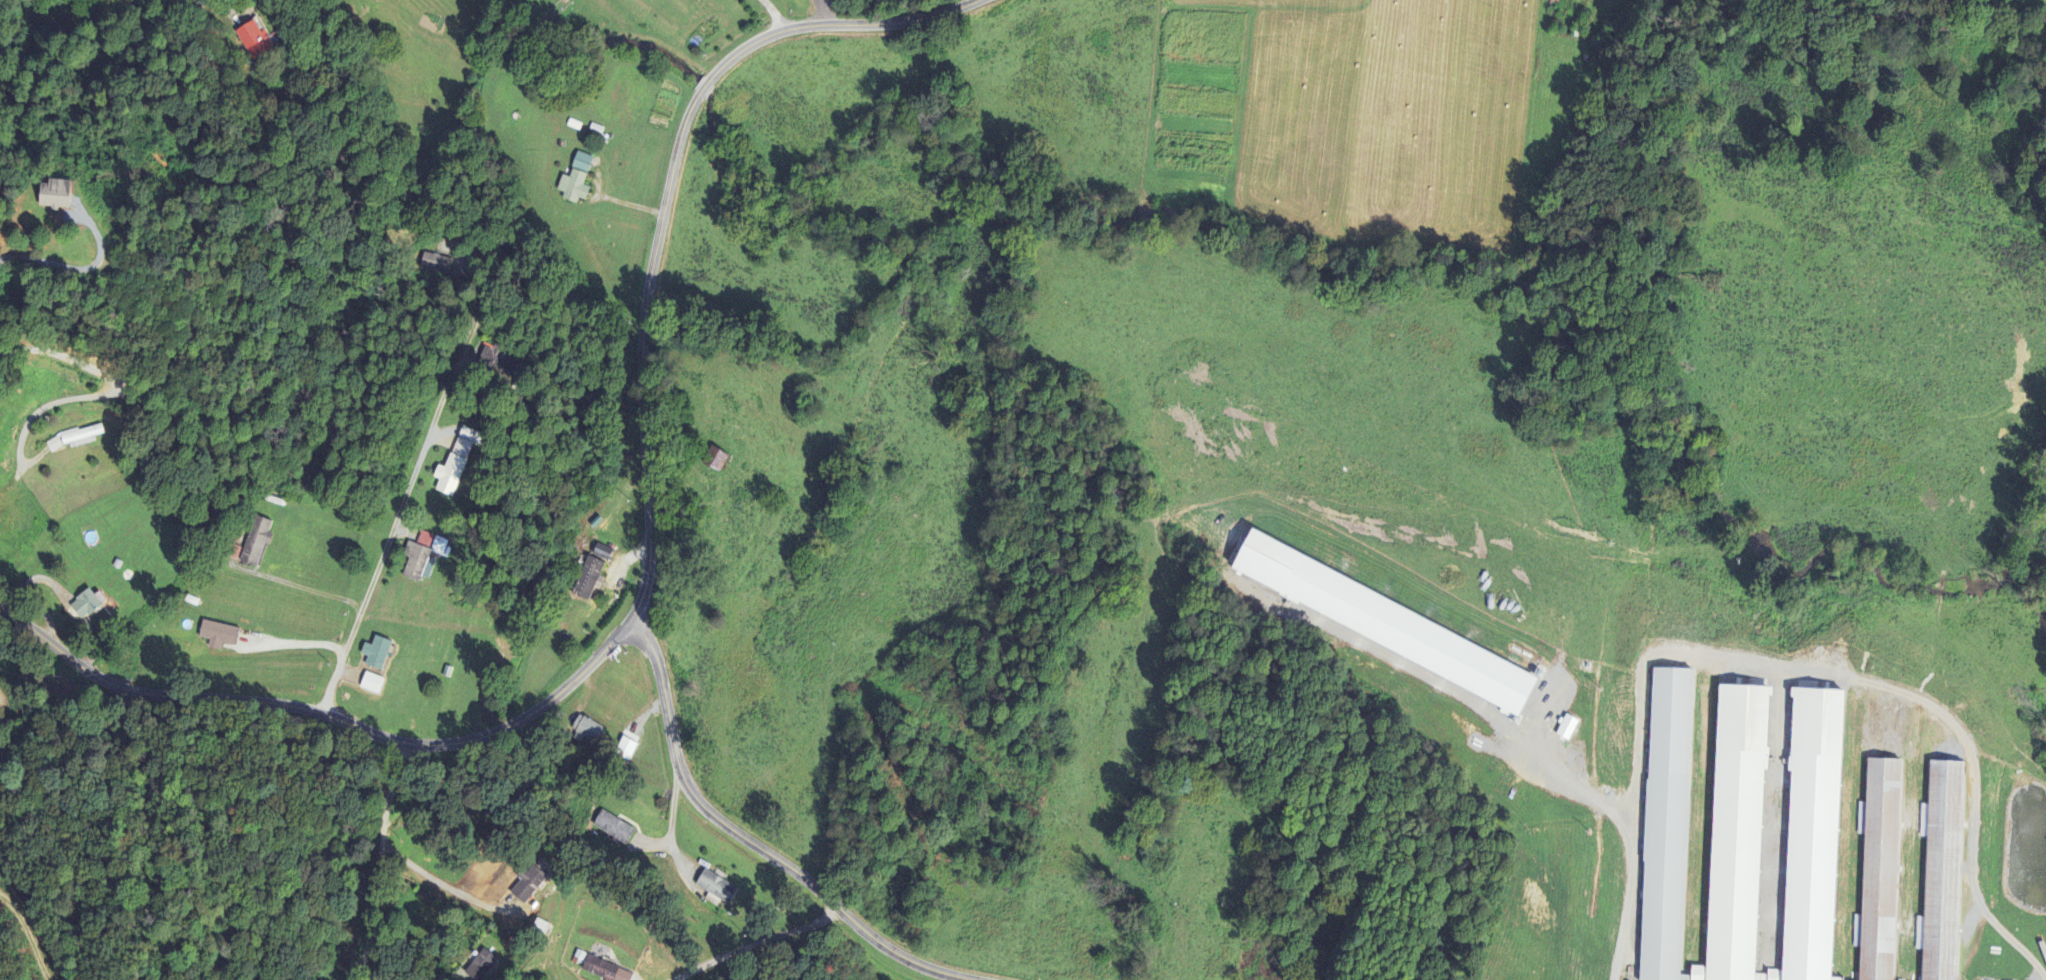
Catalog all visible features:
building: (697, 1)
road: (777, 14)
building: (254, 40)
building: (575, 181)
building: (54, 196)
road: (284, 302)
building: (496, 365)
building: (81, 437)
building: (53, 446)
building: (456, 462)
road: (398, 510)
building: (256, 542)
building: (602, 553)
road: (649, 557)
building: (414, 564)
building: (588, 580)
building: (87, 605)
building: (1388, 626)
building: (218, 636)
building: (376, 654)
building: (371, 685)
building: (1567, 728)
building: (586, 731)
building: (1667, 824)
building: (613, 828)
building: (1738, 828)
road: (756, 841)
building: (1881, 869)
building: (1943, 870)
building: (527, 884)
building: (716, 887)
building: (487, 959)
building: (604, 970)

